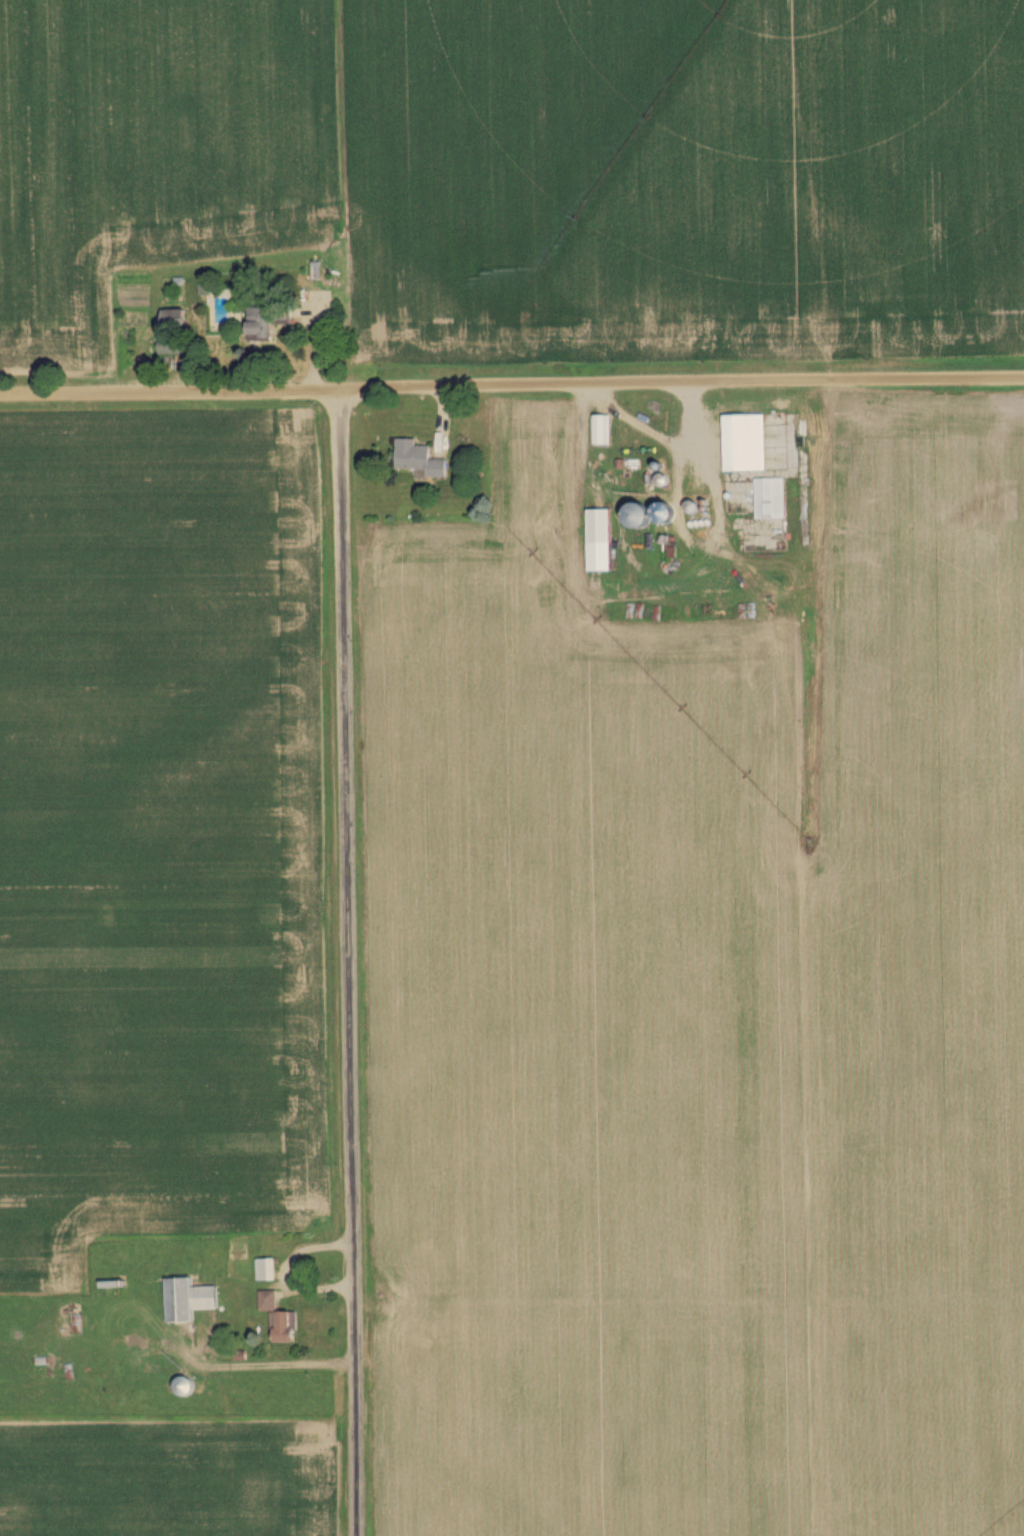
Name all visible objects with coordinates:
crop: (156, 153)
crop: (685, 181)
building: (175, 317)
building: (267, 321)
building: (173, 348)
road: (512, 383)
building: (601, 430)
building: (746, 443)
building: (419, 460)
building: (737, 497)
building: (770, 499)
building: (663, 517)
building: (600, 540)
crop: (159, 834)
road: (350, 960)
crop: (702, 1014)
building: (266, 1270)
building: (189, 1300)
crop: (171, 1474)

